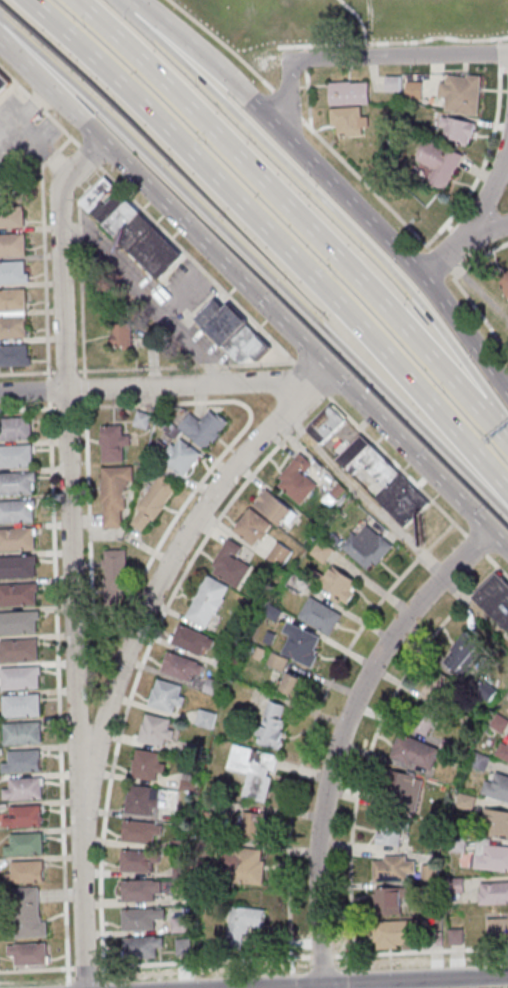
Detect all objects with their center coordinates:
road: (359, 18)
park: (342, 23)
road: (393, 42)
road: (223, 44)
road: (399, 56)
road: (498, 62)
building: (393, 84)
road: (306, 86)
building: (5, 87)
building: (415, 90)
building: (350, 93)
building: (462, 94)
road: (288, 97)
road: (287, 105)
building: (349, 120)
building: (458, 131)
parking lot: (25, 132)
building: (440, 163)
road: (336, 180)
road: (366, 184)
road: (319, 200)
road: (283, 207)
road: (149, 214)
road: (478, 217)
building: (12, 218)
building: (132, 227)
road: (275, 241)
building: (13, 244)
road: (468, 251)
road: (44, 253)
road: (439, 261)
road: (256, 262)
road: (80, 268)
building: (14, 272)
building: (504, 280)
road: (255, 293)
parking lot: (160, 294)
road: (148, 296)
road: (479, 312)
building: (13, 313)
building: (235, 333)
building: (123, 337)
building: (15, 355)
road: (185, 366)
road: (64, 371)
road: (27, 372)
road: (312, 380)
road: (166, 387)
road: (83, 389)
road: (49, 390)
road: (67, 406)
road: (27, 408)
building: (328, 424)
building: (16, 429)
building: (204, 429)
road: (498, 433)
building: (114, 444)
road: (230, 444)
building: (16, 457)
building: (182, 458)
road: (397, 466)
building: (298, 479)
building: (389, 482)
building: (17, 484)
building: (115, 496)
building: (154, 503)
building: (276, 508)
building: (17, 511)
road: (88, 520)
building: (254, 527)
road: (396, 531)
building: (18, 539)
road: (476, 544)
building: (368, 546)
building: (322, 551)
building: (280, 555)
road: (70, 556)
road: (169, 564)
road: (496, 564)
building: (232, 565)
building: (18, 566)
building: (116, 574)
building: (340, 583)
building: (19, 594)
building: (495, 600)
building: (207, 602)
building: (320, 616)
building: (19, 623)
building: (192, 641)
building: (305, 650)
building: (19, 651)
building: (465, 654)
road: (142, 662)
building: (182, 668)
building: (20, 678)
building: (292, 685)
building: (440, 688)
road: (58, 694)
building: (167, 696)
building: (22, 706)
building: (423, 720)
building: (273, 725)
road: (312, 725)
building: (157, 731)
building: (23, 734)
road: (341, 735)
road: (370, 747)
building: (503, 751)
building: (416, 753)
building: (23, 761)
building: (481, 762)
building: (149, 766)
building: (254, 770)
building: (404, 785)
building: (496, 786)
building: (25, 789)
building: (152, 801)
building: (24, 816)
building: (498, 820)
building: (254, 825)
building: (141, 833)
building: (389, 834)
building: (26, 844)
building: (491, 858)
building: (138, 862)
building: (251, 867)
building: (393, 868)
building: (28, 871)
building: (430, 873)
building: (140, 891)
building: (493, 894)
building: (389, 900)
building: (29, 912)
building: (141, 919)
building: (243, 924)
building: (180, 925)
building: (498, 928)
building: (396, 934)
building: (144, 946)
building: (183, 946)
road: (420, 951)
building: (30, 953)
road: (321, 955)
road: (203, 961)
road: (85, 967)
road: (37, 969)
road: (354, 978)
road: (291, 979)
road: (379, 981)

